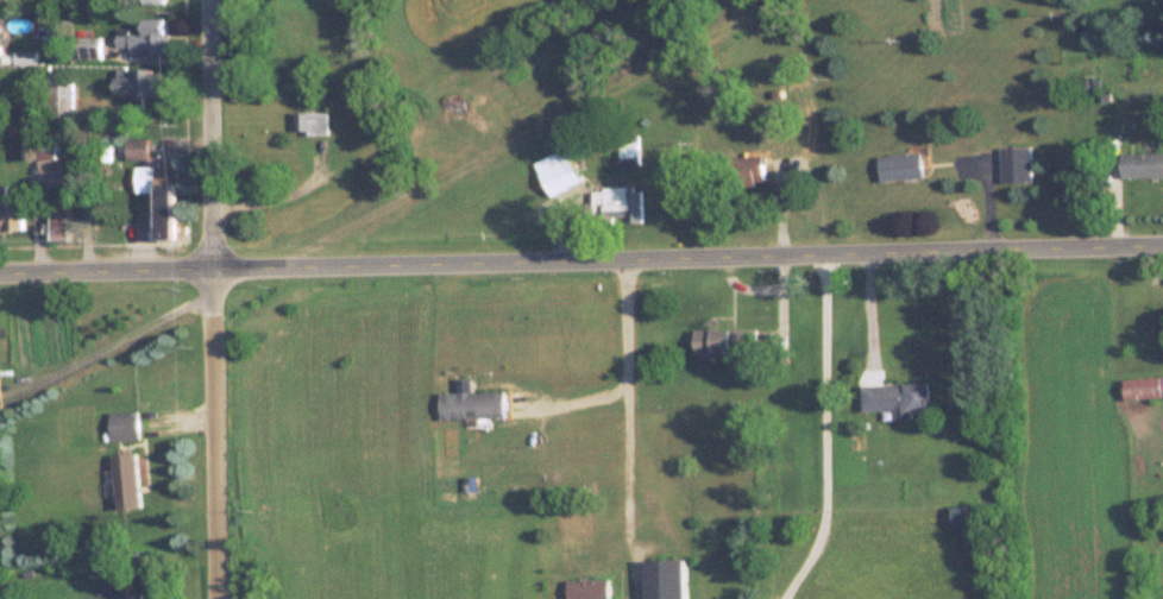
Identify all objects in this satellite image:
building: (7, 0)
building: (152, 1)
building: (143, 37)
building: (84, 46)
building: (139, 81)
building: (59, 100)
building: (308, 122)
building: (34, 128)
road: (214, 138)
building: (627, 153)
building: (1140, 163)
building: (1013, 164)
building: (748, 166)
building: (898, 166)
building: (555, 170)
building: (155, 183)
building: (620, 204)
building: (10, 214)
building: (57, 219)
road: (580, 265)
road: (216, 286)
building: (723, 340)
road: (108, 346)
building: (1142, 387)
building: (894, 397)
road: (622, 404)
building: (122, 427)
road: (818, 434)
road: (219, 448)
building: (125, 480)
building: (964, 529)
building: (662, 579)
building: (586, 588)
building: (130, 594)

